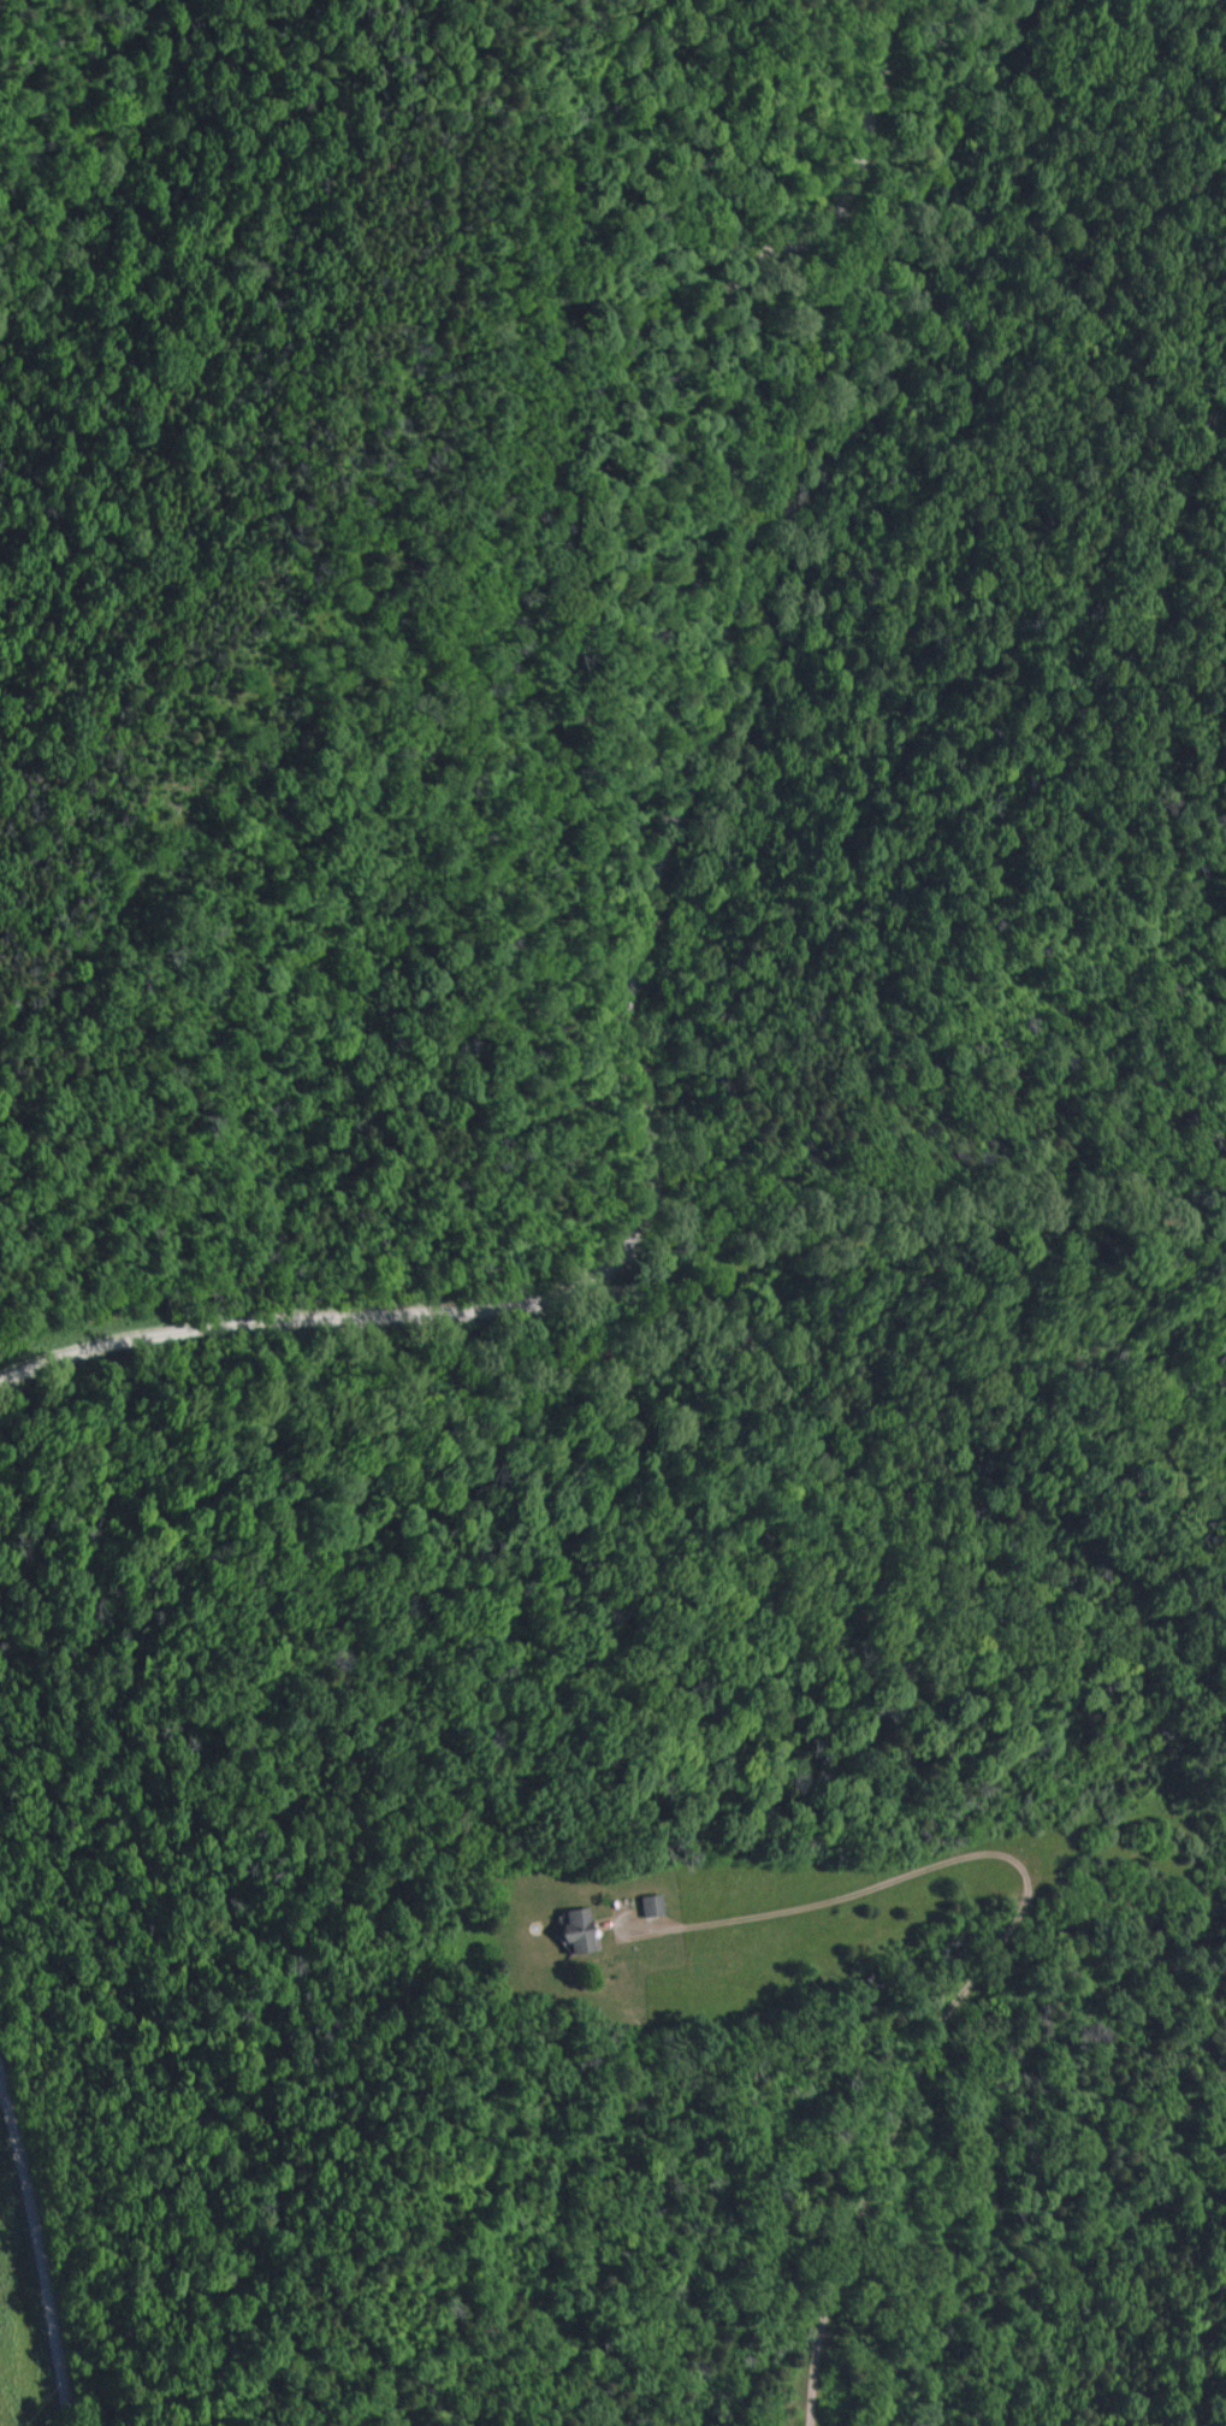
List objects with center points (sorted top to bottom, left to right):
road: (651, 934)
building: (645, 1907)
building: (570, 1932)
road: (1006, 1946)
road: (32, 2245)

